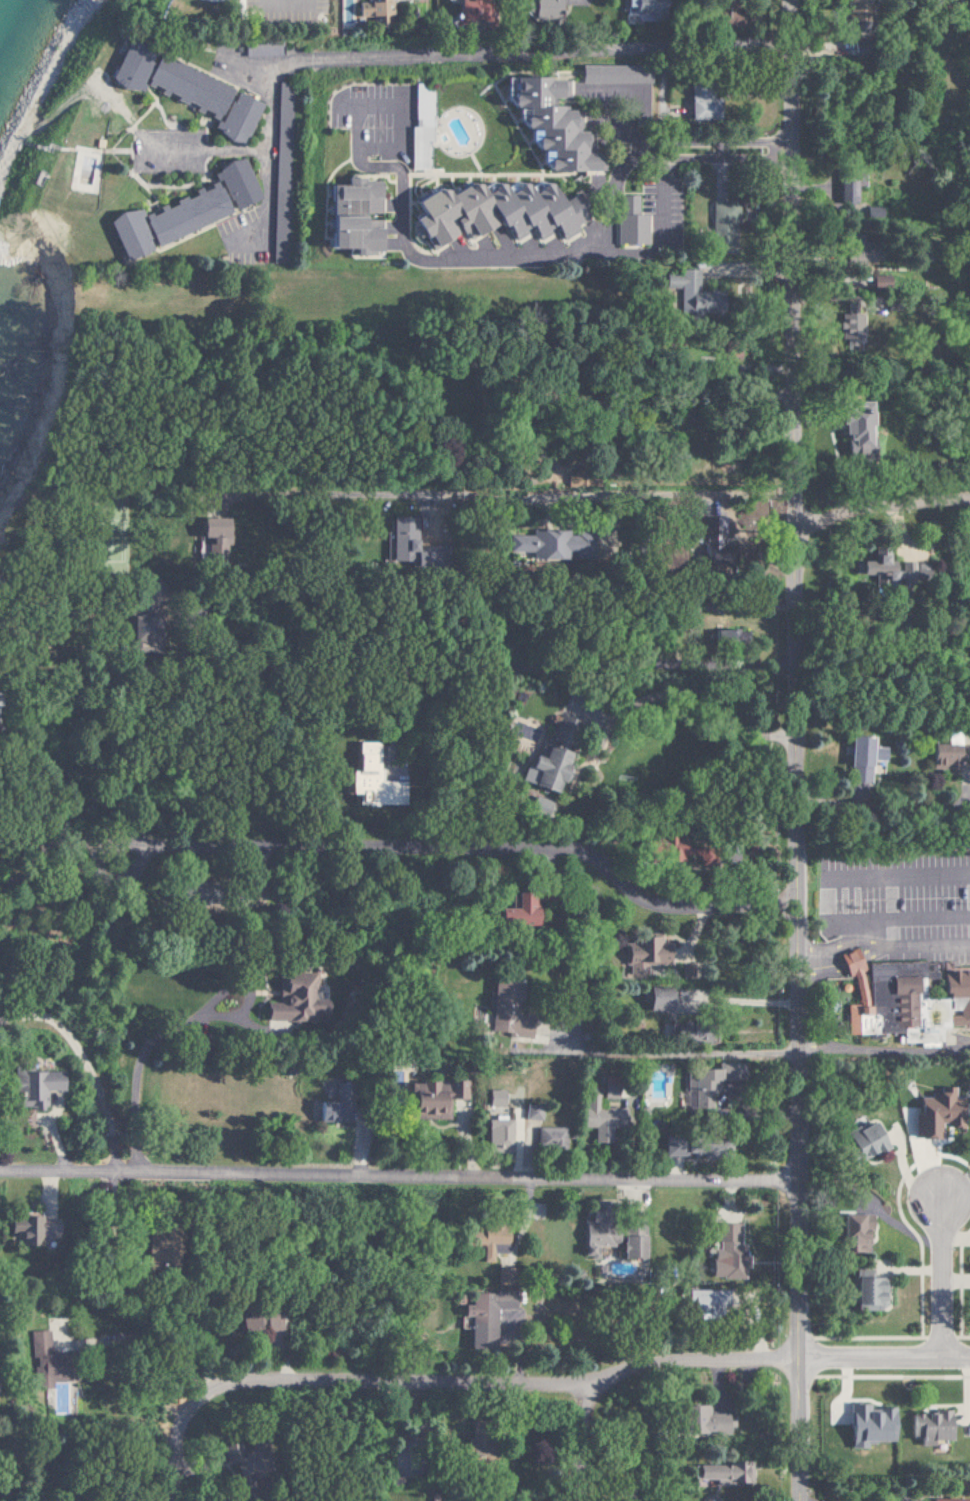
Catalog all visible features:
road: (286, 6)
building: (540, 9)
building: (855, 9)
building: (372, 10)
building: (641, 10)
building: (260, 47)
road: (445, 57)
building: (602, 74)
building: (180, 90)
building: (700, 105)
road: (614, 111)
building: (542, 122)
building: (418, 130)
road: (717, 133)
road: (721, 142)
road: (209, 147)
road: (718, 151)
building: (849, 186)
road: (663, 192)
building: (182, 210)
building: (485, 214)
building: (350, 216)
building: (627, 222)
building: (721, 225)
road: (406, 240)
building: (879, 281)
building: (689, 293)
building: (849, 328)
building: (854, 429)
road: (880, 482)
road: (453, 495)
building: (214, 535)
building: (402, 539)
building: (539, 544)
building: (881, 567)
building: (725, 636)
road: (719, 664)
road: (792, 750)
building: (940, 755)
building: (860, 758)
building: (541, 769)
building: (536, 807)
road: (880, 807)
building: (661, 848)
road: (453, 851)
building: (514, 913)
road: (738, 938)
road: (877, 941)
building: (643, 954)
building: (955, 994)
road: (738, 997)
building: (655, 999)
building: (875, 1000)
building: (293, 1002)
building: (508, 1026)
road: (685, 1048)
road: (882, 1049)
road: (141, 1054)
road: (87, 1063)
building: (698, 1085)
building: (30, 1087)
building: (491, 1097)
building: (432, 1099)
building: (592, 1112)
building: (934, 1114)
building: (529, 1115)
building: (495, 1136)
building: (548, 1138)
building: (860, 1142)
building: (691, 1148)
road: (396, 1177)
building: (30, 1230)
building: (850, 1232)
building: (483, 1239)
building: (613, 1239)
building: (724, 1251)
road: (938, 1275)
building: (864, 1292)
building: (692, 1301)
building: (484, 1316)
building: (263, 1325)
road: (150, 1336)
building: (42, 1359)
road: (882, 1359)
road: (638, 1369)
road: (344, 1384)
building: (698, 1421)
building: (867, 1425)
building: (928, 1427)
building: (722, 1473)
building: (946, 1500)

